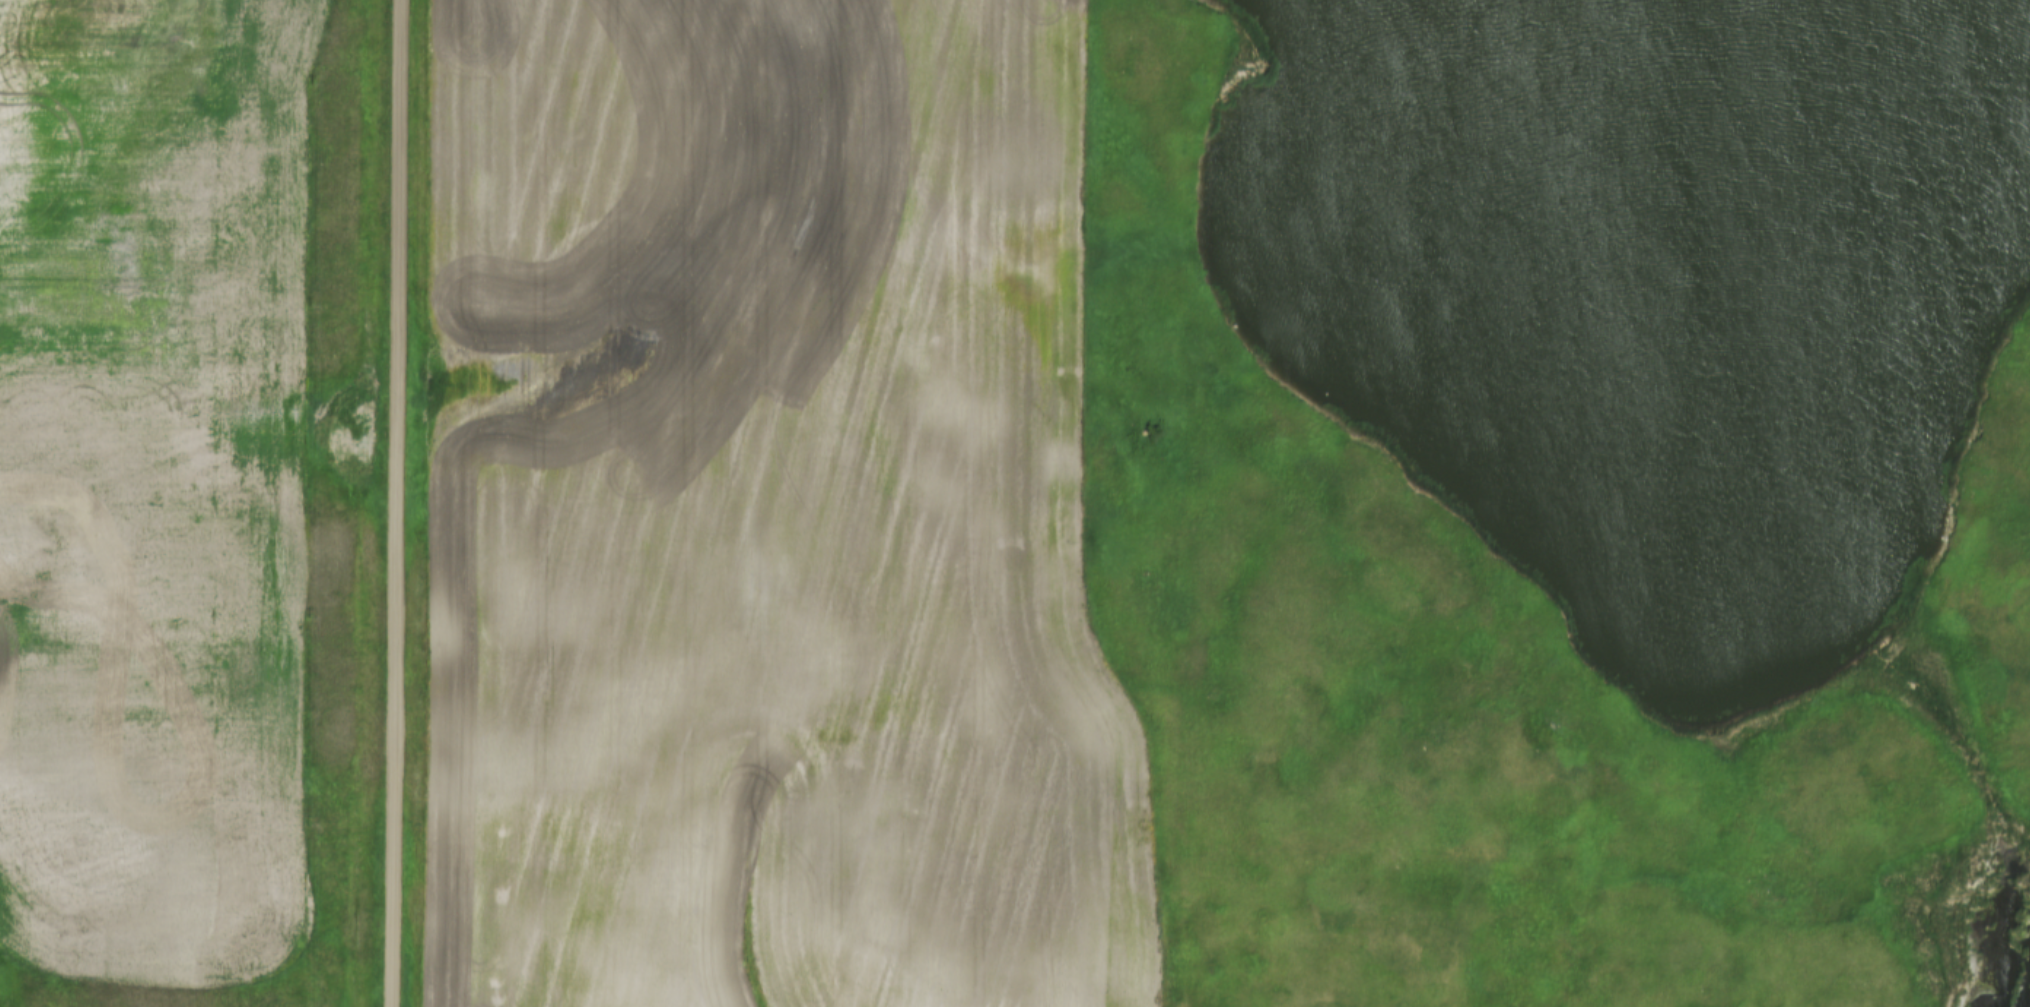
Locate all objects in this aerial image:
road: (401, 503)

